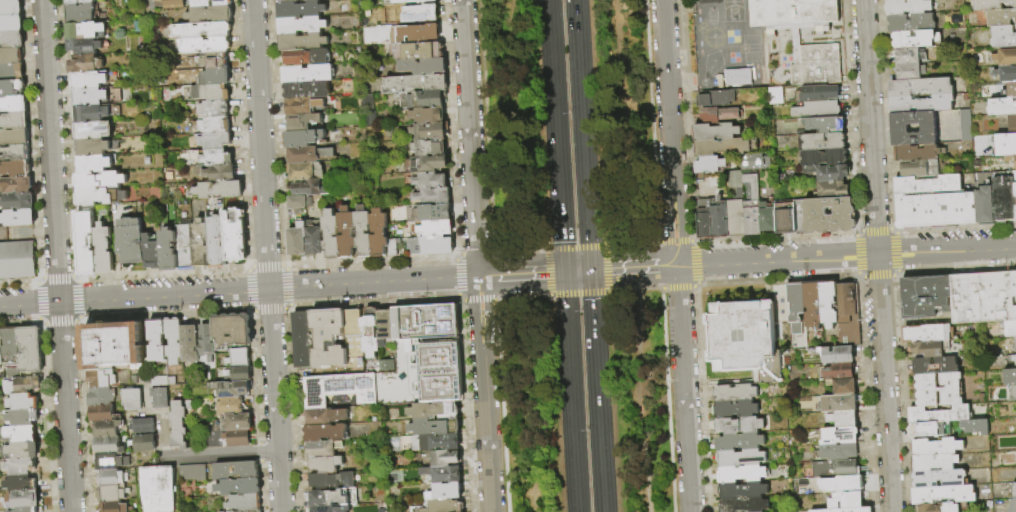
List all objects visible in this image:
building: (3, 0)
building: (285, 0)
building: (310, 0)
building: (78, 1)
building: (415, 1)
building: (201, 3)
building: (222, 3)
building: (174, 4)
building: (991, 4)
building: (10, 7)
building: (908, 7)
building: (300, 9)
building: (79, 13)
building: (419, 13)
building: (209, 15)
building: (793, 16)
building: (1000, 17)
building: (911, 23)
building: (11, 24)
building: (302, 25)
building: (85, 30)
building: (198, 31)
building: (421, 33)
building: (1003, 37)
building: (915, 39)
building: (11, 40)
building: (303, 41)
building: (202, 45)
building: (83, 46)
building: (419, 51)
building: (909, 55)
building: (11, 56)
building: (307, 57)
building: (1005, 57)
building: (214, 60)
building: (85, 64)
building: (815, 65)
building: (424, 66)
building: (910, 71)
building: (11, 72)
building: (308, 73)
building: (1006, 73)
building: (212, 77)
building: (736, 77)
building: (88, 80)
building: (415, 83)
building: (919, 86)
building: (11, 88)
building: (307, 90)
building: (1010, 90)
building: (208, 92)
building: (818, 92)
building: (776, 96)
building: (89, 97)
building: (716, 98)
building: (426, 99)
building: (921, 103)
building: (13, 104)
building: (302, 106)
building: (1001, 107)
building: (213, 109)
building: (818, 109)
building: (91, 114)
building: (718, 114)
building: (428, 115)
building: (14, 121)
building: (303, 121)
road: (623, 121)
building: (1012, 123)
building: (824, 124)
building: (213, 125)
building: (965, 125)
building: (899, 128)
building: (91, 130)
building: (430, 131)
building: (715, 131)
road: (583, 134)
road: (556, 136)
building: (14, 137)
building: (303, 138)
building: (214, 140)
building: (821, 141)
road: (260, 144)
building: (1005, 144)
building: (92, 147)
building: (429, 147)
building: (722, 147)
building: (918, 152)
building: (14, 153)
building: (310, 155)
building: (824, 157)
building: (211, 158)
building: (1011, 159)
building: (755, 161)
building: (93, 164)
building: (425, 164)
building: (710, 164)
building: (919, 168)
building: (15, 169)
building: (306, 171)
building: (829, 172)
building: (217, 173)
building: (428, 180)
building: (99, 181)
building: (928, 184)
building: (16, 185)
building: (310, 188)
building: (833, 189)
building: (219, 190)
building: (100, 196)
building: (433, 196)
building: (1003, 197)
building: (1014, 198)
building: (749, 200)
building: (18, 201)
building: (296, 203)
building: (985, 206)
building: (935, 209)
building: (435, 212)
building: (825, 215)
building: (767, 217)
building: (786, 217)
building: (17, 218)
building: (736, 218)
building: (704, 220)
building: (720, 220)
building: (434, 228)
building: (346, 232)
building: (363, 232)
building: (378, 233)
building: (331, 234)
building: (234, 235)
building: (297, 240)
building: (314, 240)
building: (131, 241)
road: (674, 241)
building: (216, 242)
building: (200, 243)
road: (630, 243)
building: (86, 244)
building: (430, 246)
building: (392, 247)
road: (574, 247)
building: (184, 248)
building: (103, 249)
building: (168, 250)
road: (519, 250)
building: (151, 253)
road: (477, 253)
road: (56, 255)
road: (455, 255)
park: (576, 255)
road: (676, 255)
road: (477, 256)
road: (877, 256)
road: (803, 258)
building: (17, 261)
road: (696, 263)
road: (603, 269)
traffic signals: (591, 270)
road: (578, 271)
road: (546, 272)
traffic signals: (565, 272)
road: (521, 274)
road: (455, 277)
road: (462, 277)
road: (358, 284)
building: (1014, 284)
road: (676, 287)
road: (623, 291)
road: (577, 293)
road: (520, 295)
road: (134, 296)
building: (926, 297)
building: (847, 298)
building: (982, 298)
road: (458, 299)
road: (478, 299)
building: (828, 303)
building: (812, 305)
building: (797, 307)
building: (1015, 312)
building: (386, 327)
building: (1009, 328)
building: (233, 330)
building: (849, 330)
building: (370, 332)
building: (929, 333)
building: (329, 338)
building: (303, 339)
building: (354, 339)
building: (158, 340)
building: (175, 340)
building: (208, 341)
building: (745, 341)
building: (11, 343)
building: (191, 343)
building: (114, 344)
building: (1015, 344)
building: (1, 349)
building: (931, 349)
building: (31, 350)
building: (836, 354)
building: (423, 357)
building: (239, 358)
building: (1014, 358)
building: (387, 366)
building: (936, 366)
building: (843, 371)
building: (13, 373)
building: (239, 375)
building: (99, 377)
building: (1010, 377)
building: (135, 380)
building: (149, 381)
building: (164, 381)
building: (24, 384)
building: (843, 386)
building: (340, 388)
building: (234, 389)
road: (666, 389)
building: (939, 390)
road: (597, 391)
road: (571, 392)
building: (735, 393)
building: (1014, 394)
building: (101, 397)
building: (161, 398)
building: (134, 400)
road: (275, 400)
road: (646, 401)
building: (24, 402)
building: (245, 403)
building: (840, 403)
building: (232, 407)
building: (736, 409)
building: (434, 410)
building: (104, 415)
building: (938, 415)
building: (324, 416)
building: (22, 418)
building: (844, 419)
building: (234, 423)
building: (1015, 423)
building: (740, 425)
building: (144, 426)
building: (179, 426)
building: (436, 427)
building: (975, 427)
building: (106, 429)
building: (930, 430)
building: (326, 432)
building: (21, 434)
building: (841, 436)
building: (228, 439)
building: (435, 442)
building: (740, 442)
building: (145, 443)
building: (108, 446)
building: (936, 447)
building: (322, 449)
building: (21, 451)
building: (839, 452)
road: (209, 455)
building: (741, 457)
building: (444, 458)
building: (111, 462)
building: (934, 462)
building: (326, 464)
building: (21, 467)
building: (837, 469)
building: (237, 471)
building: (742, 473)
building: (193, 474)
building: (443, 474)
building: (111, 478)
building: (938, 478)
building: (331, 481)
building: (21, 484)
building: (843, 484)
building: (240, 487)
building: (160, 489)
building: (743, 490)
building: (1014, 490)
building: (113, 494)
building: (447, 494)
building: (943, 494)
building: (333, 497)
building: (23, 499)
building: (847, 500)
building: (245, 503)
building: (744, 505)
building: (1013, 505)
building: (443, 507)
building: (942, 507)
building: (117, 508)
building: (28, 509)
building: (323, 509)
building: (413, 509)
building: (847, 510)
building: (10, 511)
building: (254, 511)
building: (262, 511)

